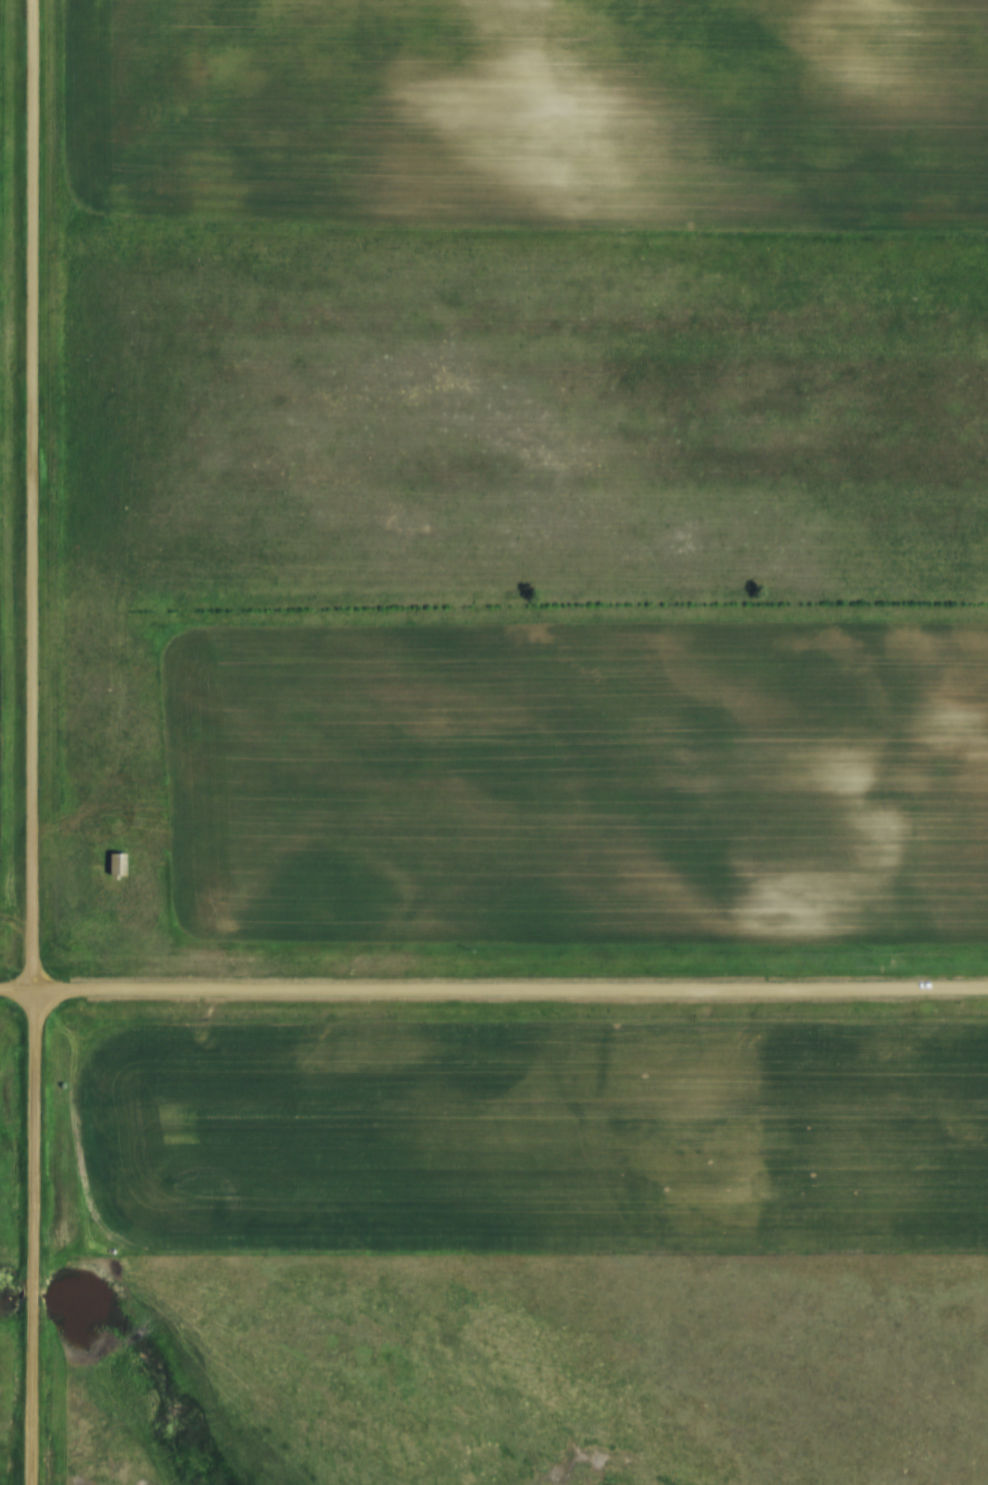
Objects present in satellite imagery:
road: (35, 742)
building: (115, 858)
road: (494, 992)

